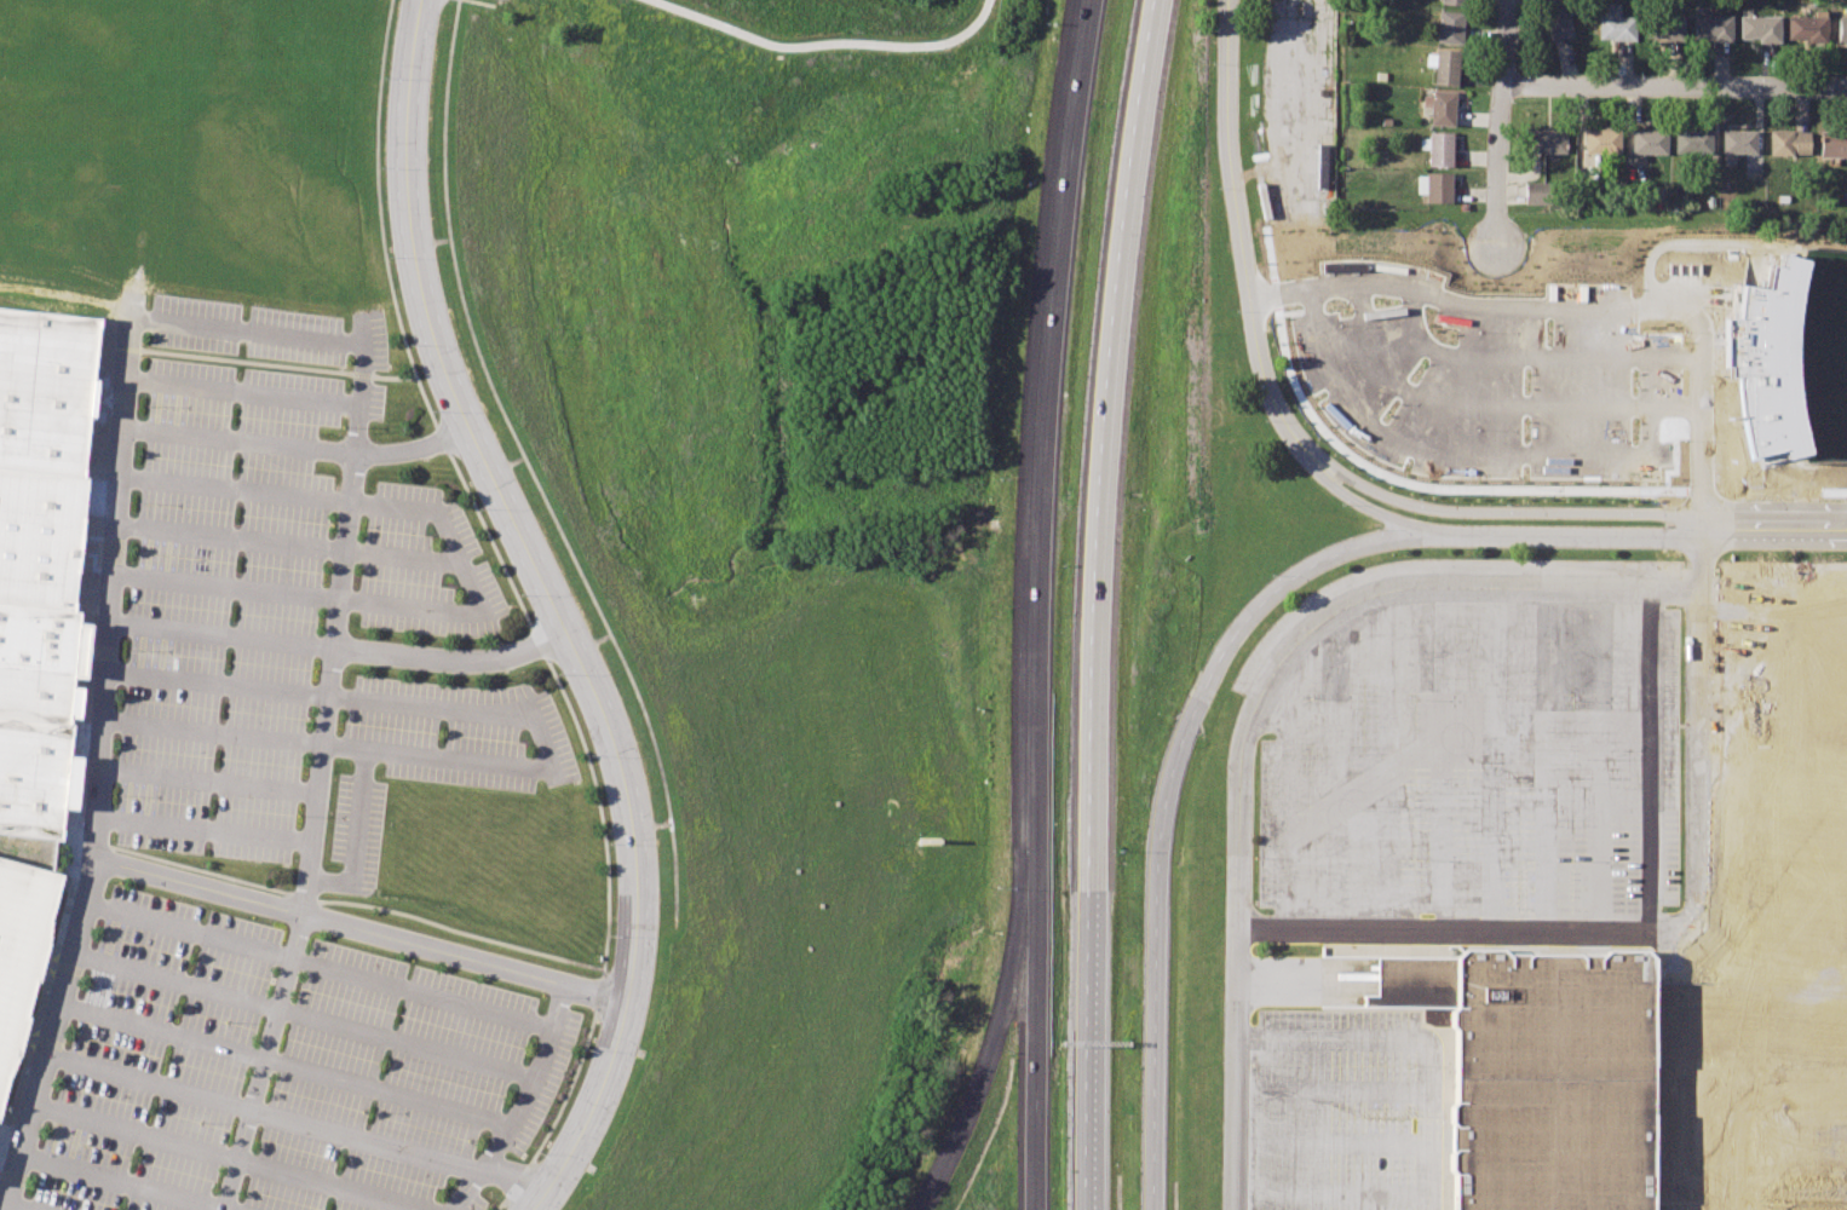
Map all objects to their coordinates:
building: (1452, 1)
building: (1557, 18)
building: (1615, 22)
building: (1449, 27)
building: (1665, 27)
building: (1713, 27)
building: (1760, 27)
building: (1806, 27)
building: (1842, 30)
road: (824, 40)
building: (1448, 67)
road: (1676, 86)
building: (1440, 106)
road: (1503, 126)
building: (1547, 139)
building: (1601, 140)
building: (1649, 140)
building: (1693, 140)
building: (1738, 142)
building: (1790, 142)
building: (1834, 142)
building: (1438, 148)
building: (1435, 188)
building: (1538, 192)
road: (1233, 202)
road: (1575, 310)
road: (304, 338)
road: (246, 390)
building: (46, 391)
road: (1041, 419)
road: (241, 440)
road: (1342, 471)
road: (1334, 485)
road: (236, 490)
road: (1567, 512)
road: (1773, 524)
road: (1564, 532)
building: (41, 538)
road: (231, 540)
road: (405, 559)
road: (474, 584)
road: (228, 588)
road: (1099, 603)
road: (553, 609)
road: (223, 636)
building: (41, 661)
road: (454, 661)
road: (218, 685)
road: (1267, 686)
road: (213, 736)
road: (546, 749)
parking lot: (1469, 753)
road: (96, 768)
building: (34, 777)
road: (208, 779)
road: (322, 779)
road: (1166, 801)
parking lot: (278, 814)
road: (203, 830)
road: (358, 840)
road: (1633, 927)
road: (362, 929)
road: (188, 930)
building: (22, 955)
road: (176, 980)
building: (1412, 981)
road: (424, 995)
road: (1030, 1025)
road: (996, 1030)
road: (163, 1032)
road: (1415, 1039)
road: (409, 1043)
building: (1546, 1078)
road: (391, 1093)
road: (523, 1106)
road: (1744, 1108)
parking lot: (1346, 1111)
road: (265, 1114)
road: (139, 1134)
road: (121, 1183)
road: (334, 1185)
road: (513, 1189)
road: (19, 1208)

